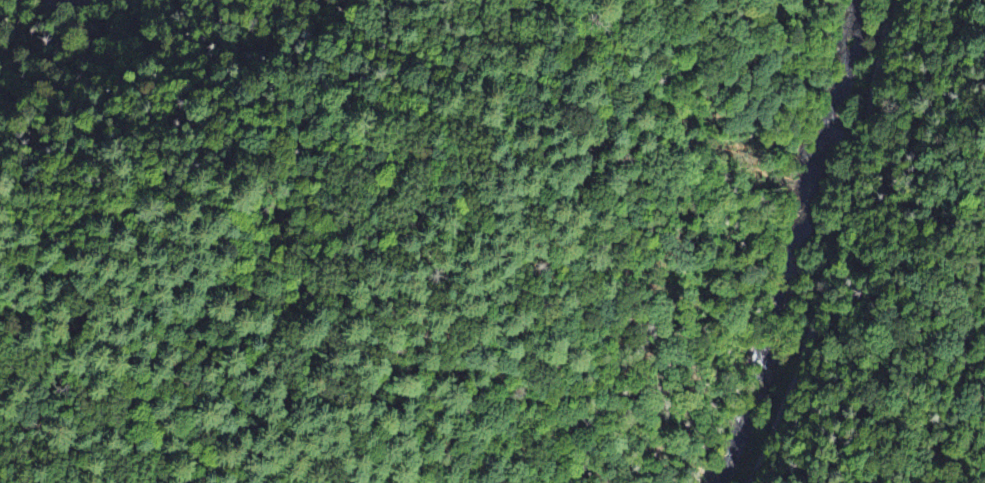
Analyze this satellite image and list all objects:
river: (772, 244)
road: (836, 247)

